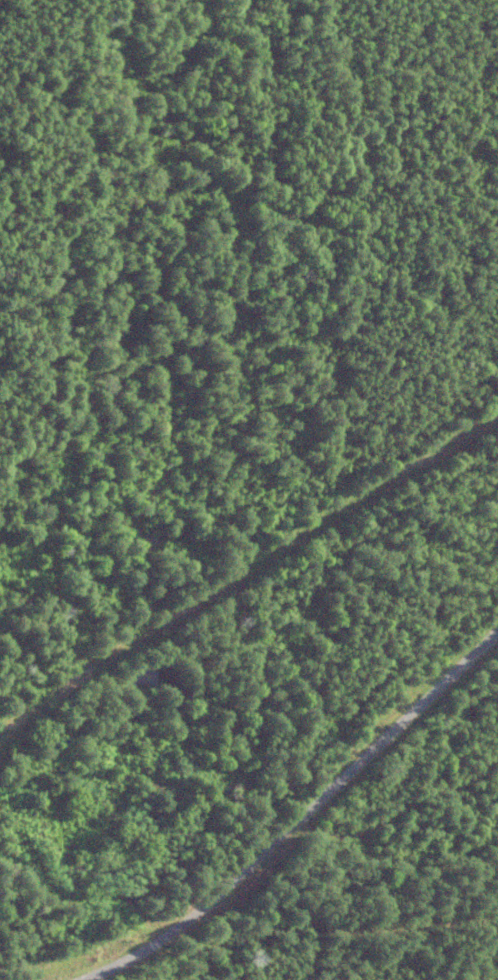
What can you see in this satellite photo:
road: (277, 804)

